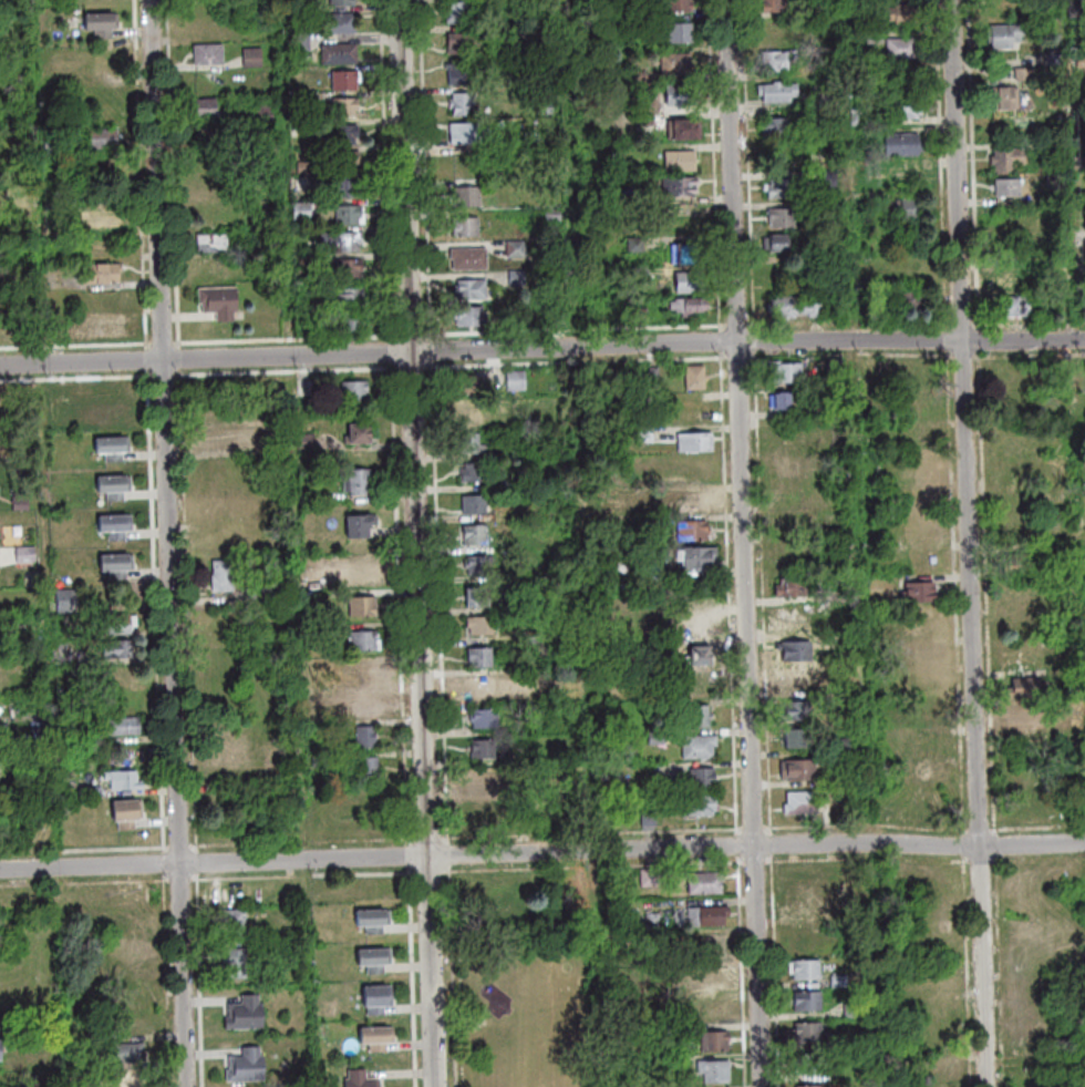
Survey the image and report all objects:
building: (1005, 1)
building: (344, 2)
building: (681, 6)
building: (304, 7)
building: (773, 7)
building: (1078, 9)
building: (458, 12)
building: (903, 17)
building: (341, 23)
building: (103, 25)
building: (683, 33)
building: (878, 38)
building: (1006, 38)
building: (539, 39)
building: (303, 40)
building: (20, 41)
building: (1060, 41)
building: (463, 44)
building: (905, 51)
building: (342, 55)
building: (211, 57)
building: (256, 58)
building: (1055, 60)
building: (1082, 61)
building: (551, 62)
building: (781, 62)
building: (678, 65)
building: (463, 74)
building: (1026, 74)
building: (640, 78)
building: (348, 80)
building: (910, 82)
road: (942, 82)
building: (1058, 86)
building: (781, 93)
building: (684, 96)
building: (314, 100)
building: (1008, 100)
building: (466, 105)
building: (348, 106)
building: (548, 109)
building: (907, 110)
building: (209, 111)
building: (267, 114)
building: (826, 116)
building: (861, 119)
building: (779, 129)
building: (686, 132)
building: (348, 135)
building: (468, 135)
building: (213, 137)
building: (105, 140)
building: (55, 147)
building: (905, 147)
building: (1056, 148)
building: (349, 161)
building: (1011, 161)
building: (683, 163)
road: (719, 165)
road: (752, 165)
road: (951, 165)
road: (976, 166)
building: (308, 167)
road: (390, 170)
road: (428, 170)
road: (143, 175)
road: (176, 175)
building: (831, 180)
building: (1058, 180)
building: (907, 181)
building: (306, 185)
building: (349, 188)
building: (682, 188)
building: (1011, 188)
building: (784, 189)
building: (634, 198)
building: (471, 199)
building: (24, 201)
building: (303, 209)
building: (916, 211)
building: (827, 213)
building: (352, 215)
building: (556, 216)
building: (784, 218)
building: (105, 222)
building: (55, 228)
building: (468, 229)
building: (344, 243)
building: (215, 245)
building: (782, 245)
building: (638, 246)
building: (518, 249)
building: (689, 257)
building: (472, 260)
building: (309, 264)
building: (352, 266)
building: (1063, 267)
building: (642, 275)
building: (103, 276)
building: (520, 279)
building: (1011, 281)
building: (691, 285)
building: (474, 291)
building: (352, 296)
building: (913, 304)
building: (221, 305)
building: (1017, 307)
building: (691, 308)
building: (796, 309)
building: (644, 317)
building: (473, 318)
building: (561, 319)
building: (354, 320)
road: (1031, 324)
building: (102, 325)
road: (741, 325)
road: (754, 325)
road: (726, 326)
road: (972, 326)
road: (644, 328)
road: (498, 332)
road: (414, 335)
road: (289, 339)
road: (724, 341)
road: (757, 341)
road: (983, 341)
road: (166, 343)
road: (77, 345)
road: (951, 346)
road: (541, 348)
road: (435, 350)
road: (395, 351)
road: (855, 353)
road: (1031, 356)
road: (742, 357)
road: (968, 357)
road: (183, 359)
road: (151, 360)
road: (579, 362)
building: (837, 367)
road: (413, 368)
road: (288, 371)
building: (788, 373)
road: (167, 376)
building: (657, 376)
road: (118, 377)
building: (699, 379)
building: (519, 381)
building: (474, 386)
building: (309, 389)
building: (356, 391)
building: (785, 402)
building: (835, 408)
building: (107, 414)
building: (474, 414)
building: (0, 417)
building: (510, 423)
road: (952, 430)
building: (647, 435)
building: (361, 437)
building: (226, 438)
building: (310, 442)
building: (474, 443)
building: (699, 443)
building: (115, 450)
building: (477, 471)
building: (361, 482)
building: (117, 488)
building: (23, 503)
building: (697, 503)
building: (477, 504)
building: (363, 526)
building: (117, 527)
building: (694, 533)
building: (478, 535)
road: (174, 543)
road: (421, 543)
road: (585, 543)
road: (747, 543)
road: (973, 543)
building: (28, 554)
building: (701, 560)
building: (482, 564)
building: (120, 566)
building: (361, 568)
building: (654, 571)
building: (226, 578)
building: (794, 588)
road: (732, 593)
road: (766, 593)
road: (990, 594)
building: (923, 595)
building: (257, 598)
building: (479, 598)
building: (68, 601)
road: (443, 603)
road: (403, 605)
building: (365, 606)
building: (508, 608)
road: (193, 611)
building: (794, 615)
road: (158, 621)
building: (693, 624)
building: (123, 625)
building: (486, 626)
building: (330, 635)
building: (536, 637)
building: (365, 640)
building: (658, 646)
building: (120, 650)
building: (799, 653)
building: (483, 656)
building: (702, 657)
building: (368, 673)
road: (961, 673)
building: (800, 679)
building: (480, 686)
building: (1030, 690)
building: (366, 704)
building: (1076, 708)
building: (798, 711)
building: (922, 715)
building: (701, 716)
building: (487, 718)
building: (1030, 718)
building: (125, 727)
building: (369, 737)
building: (82, 738)
building: (658, 740)
building: (796, 741)
building: (485, 748)
building: (701, 748)
building: (847, 748)
building: (531, 761)
building: (324, 762)
building: (372, 768)
building: (800, 771)
building: (704, 778)
building: (484, 781)
building: (126, 782)
building: (97, 791)
building: (523, 791)
building: (804, 804)
building: (703, 807)
building: (130, 816)
building: (651, 820)
road: (870, 823)
road: (1038, 829)
road: (982, 831)
road: (604, 832)
road: (431, 839)
road: (415, 840)
road: (967, 841)
road: (741, 844)
road: (775, 844)
road: (999, 845)
road: (197, 847)
road: (184, 848)
road: (87, 850)
road: (542, 852)
road: (452, 854)
road: (412, 857)
road: (762, 862)
road: (201, 863)
road: (999, 863)
road: (596, 865)
road: (432, 872)
road: (307, 875)
building: (653, 879)
road: (185, 880)
road: (87, 883)
building: (707, 885)
building: (804, 905)
building: (715, 917)
building: (683, 919)
building: (376, 921)
building: (654, 921)
building: (499, 924)
building: (237, 925)
building: (719, 946)
building: (378, 961)
building: (238, 964)
road: (776, 970)
road: (745, 971)
building: (804, 973)
building: (285, 975)
road: (456, 975)
road: (416, 976)
road: (170, 980)
road: (204, 980)
building: (716, 980)
road: (1002, 980)
building: (838, 983)
road: (793, 985)
building: (495, 998)
building: (381, 999)
building: (807, 1004)
road: (968, 1011)
park: (526, 1013)
building: (854, 1013)
building: (248, 1015)
road: (800, 1016)
building: (679, 1030)
building: (808, 1036)
building: (380, 1038)
building: (716, 1042)
road: (794, 1049)
building: (0, 1053)
building: (131, 1054)
building: (682, 1062)
building: (249, 1067)
building: (714, 1067)
building: (808, 1068)
building: (135, 1079)
road: (793, 1079)
building: (364, 1080)
building: (808, 1086)

